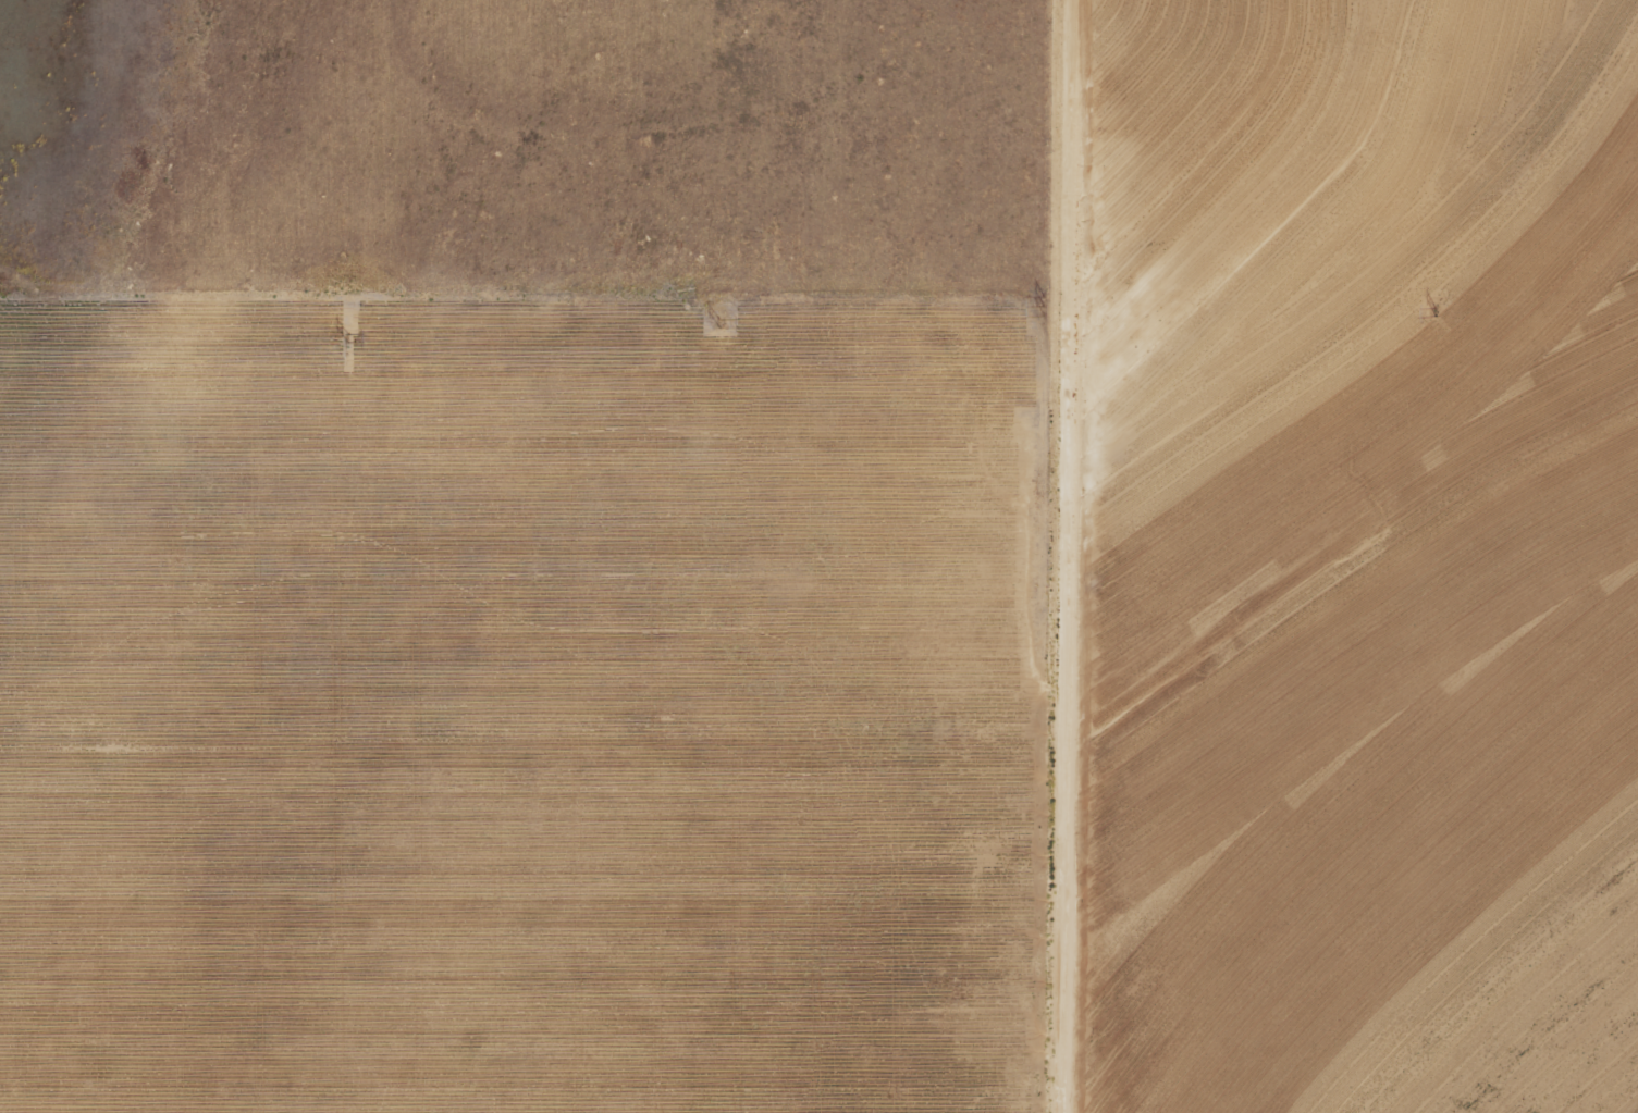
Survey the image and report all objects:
power tower: (1040, 298)
power tower: (1430, 302)
power tower: (716, 312)
power tower: (344, 333)
road: (1060, 556)

